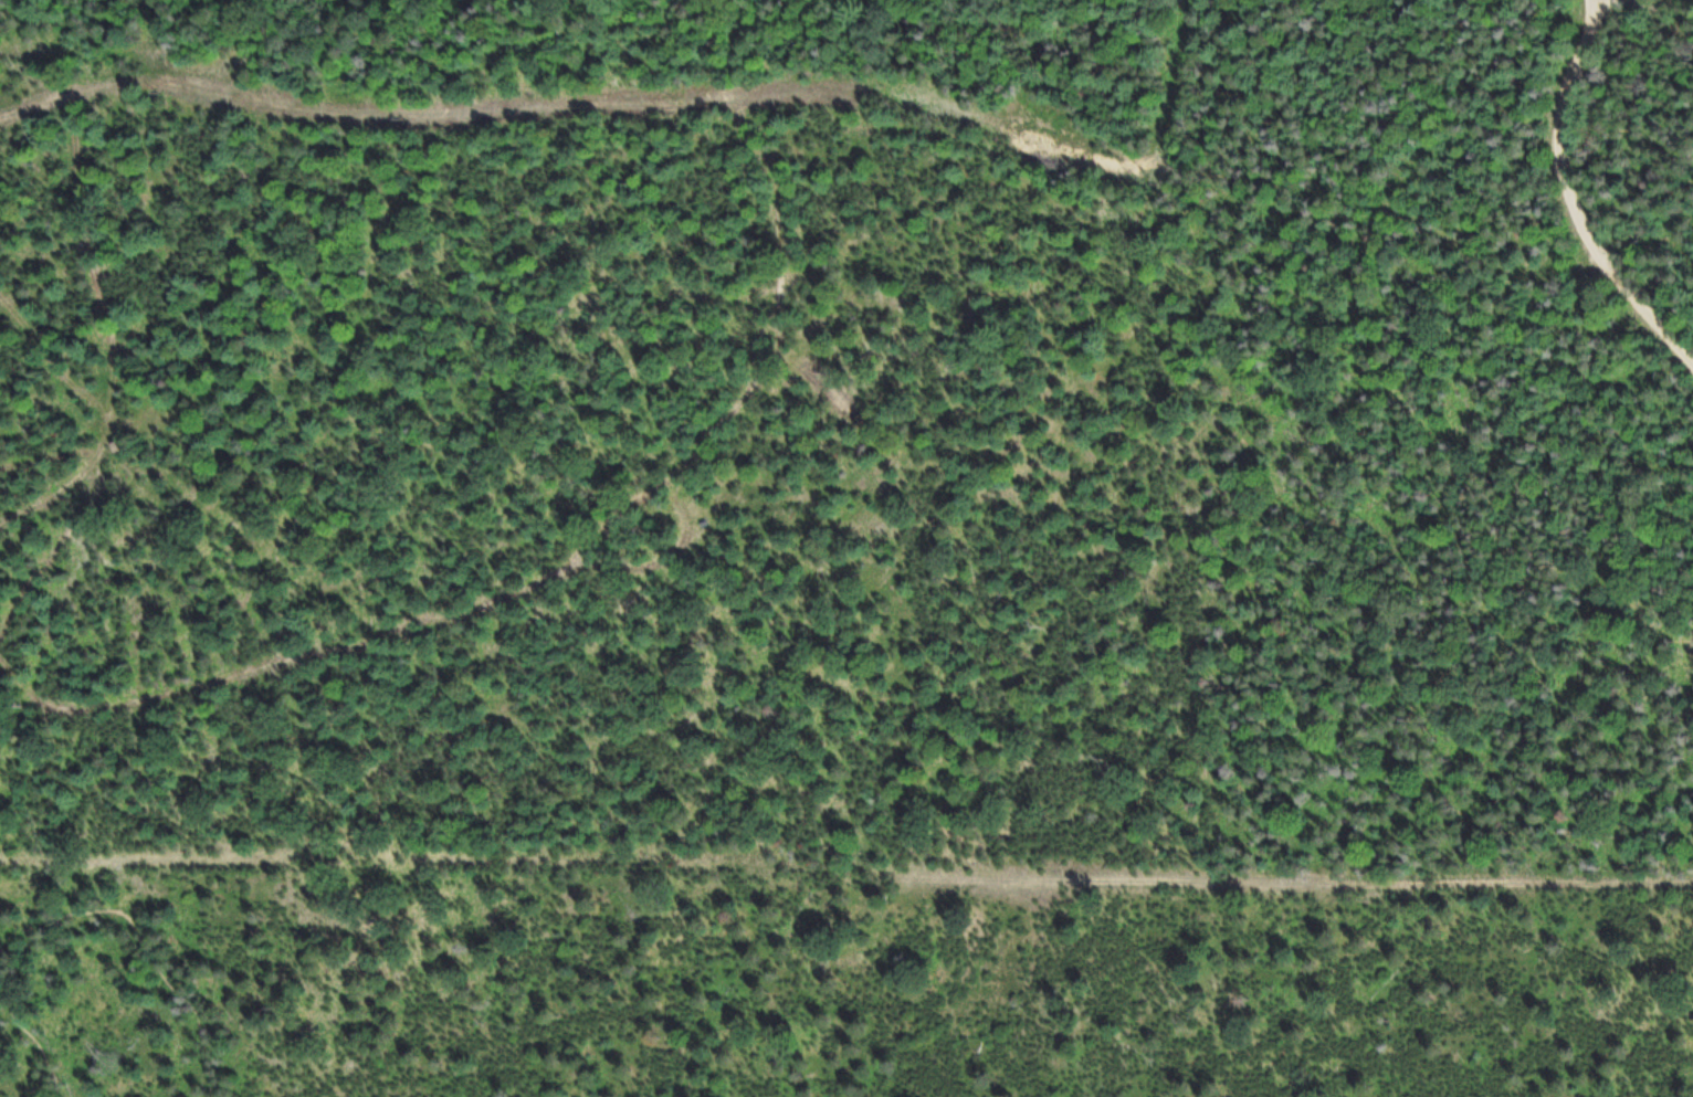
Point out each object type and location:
road: (1615, 91)
road: (1573, 200)
road: (846, 868)
road: (91, 911)

